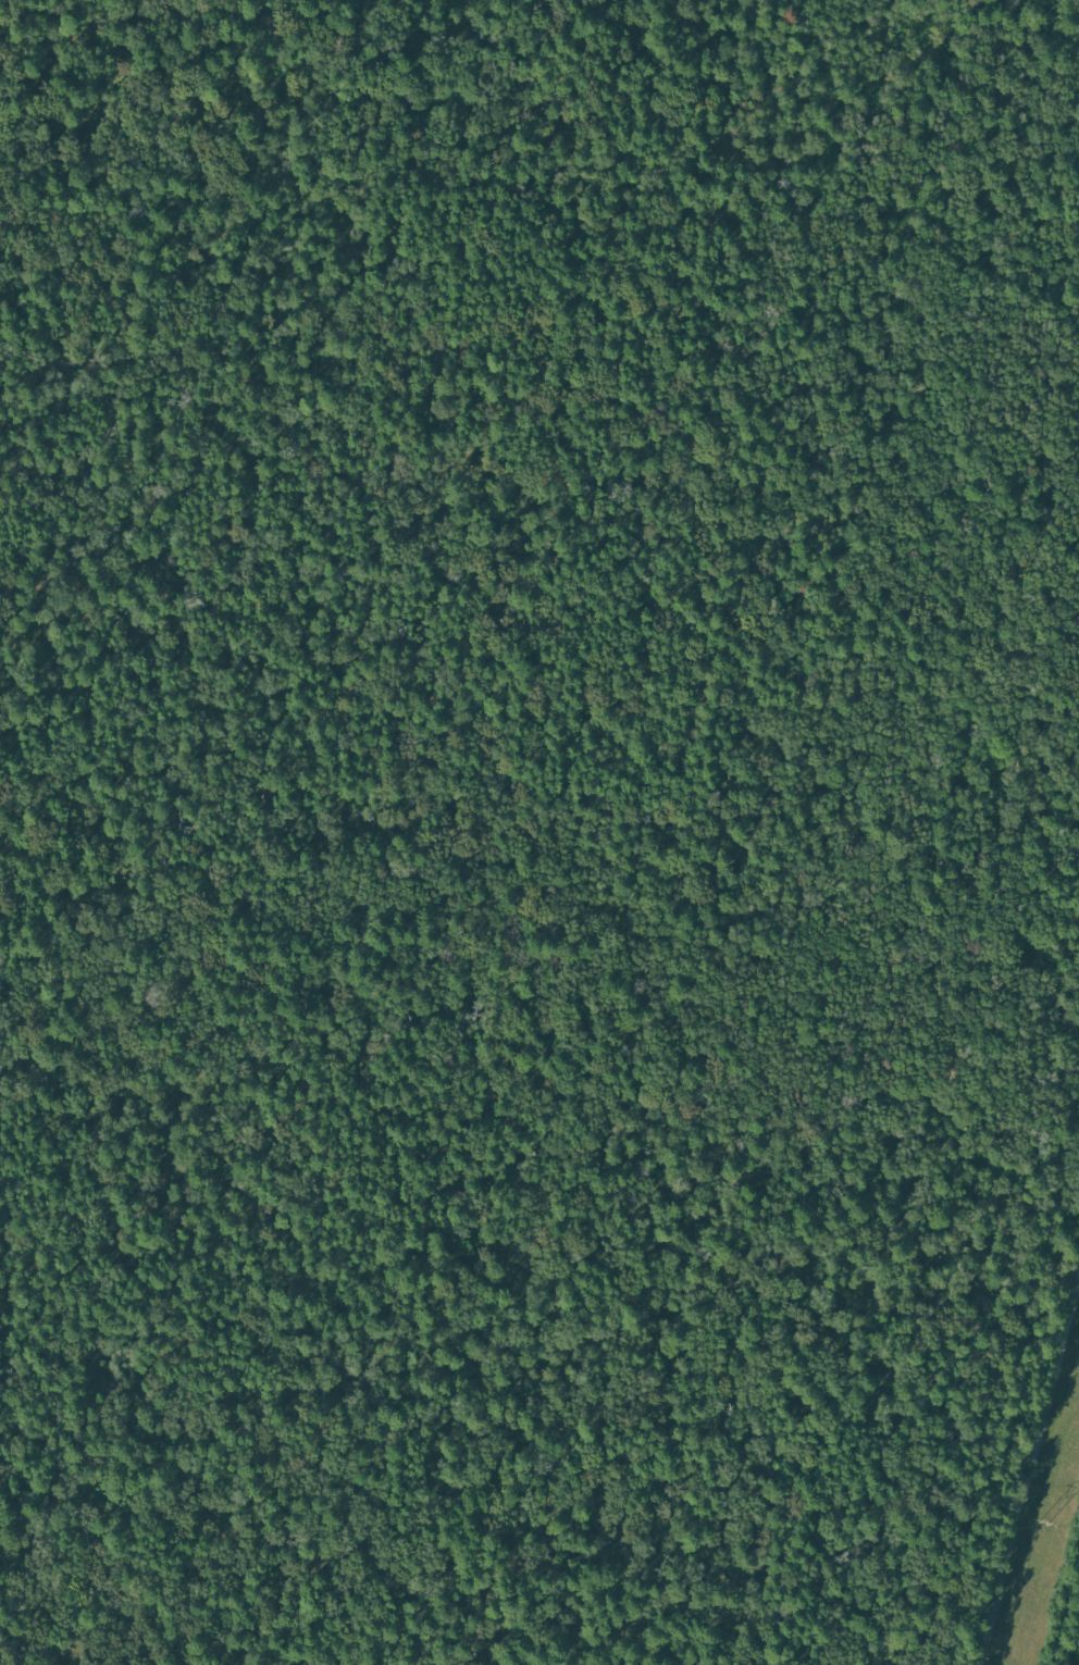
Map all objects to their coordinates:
road: (1033, 46)
road: (1040, 1506)
power tower: (1043, 1523)

